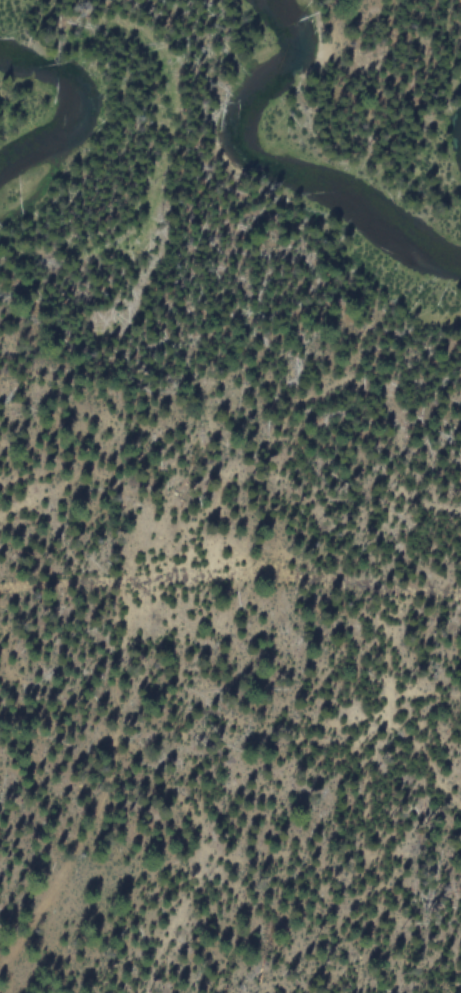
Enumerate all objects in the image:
river: (66, 110)
river: (280, 175)
road: (230, 585)

